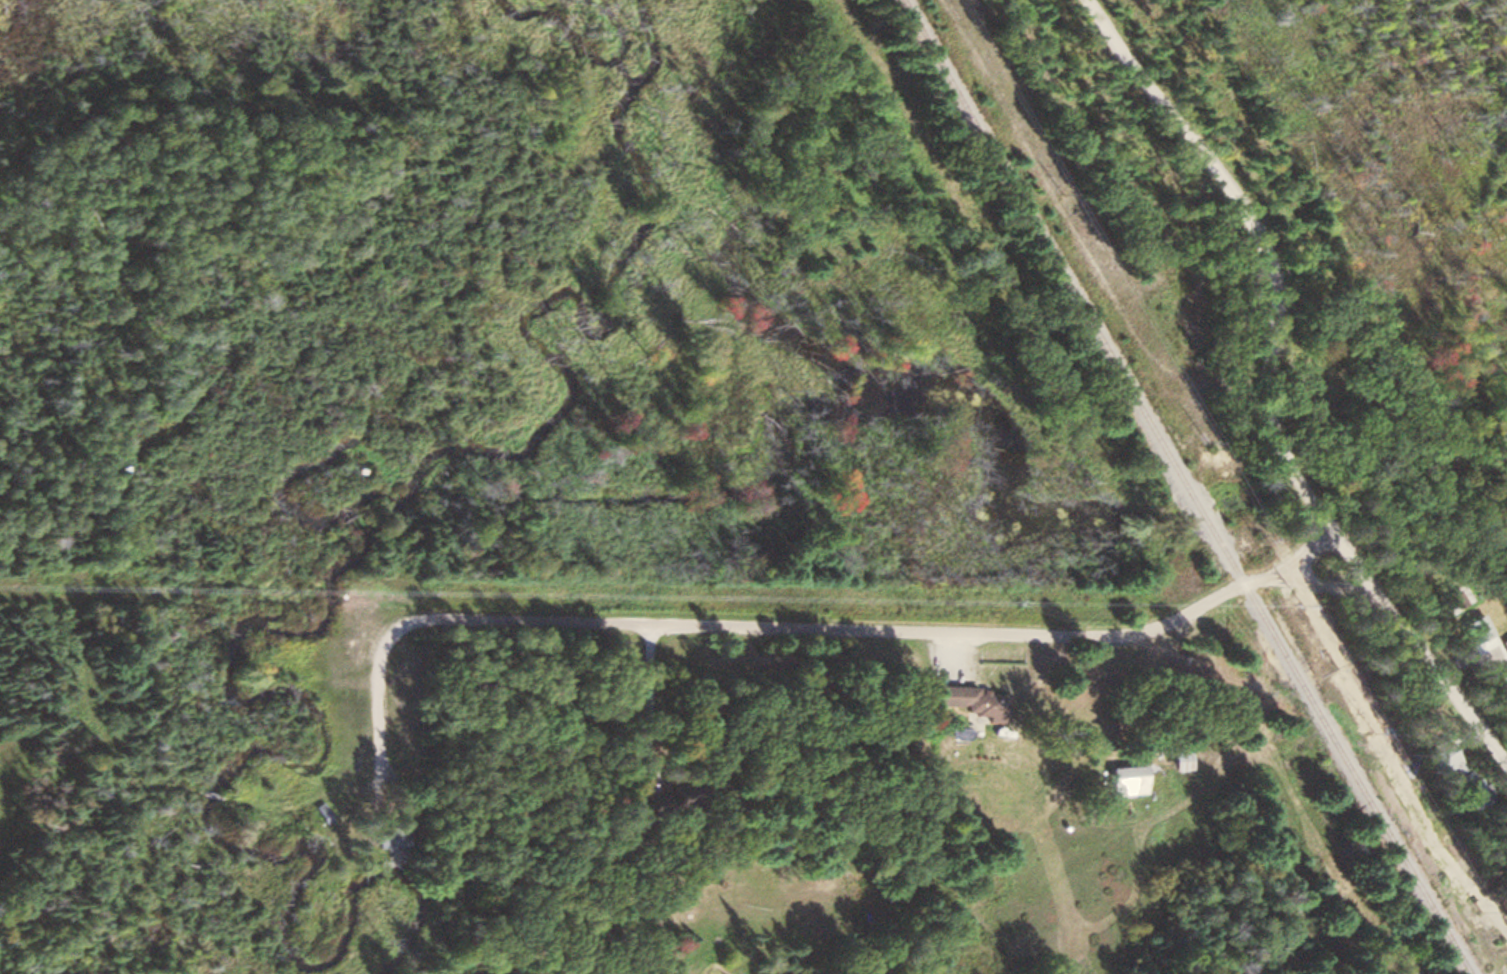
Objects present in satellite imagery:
road: (1279, 383)
railway: (1184, 485)
road: (1307, 580)
road: (848, 630)
building: (1504, 643)
building: (967, 700)
building: (1435, 752)
building: (1173, 759)
building: (1122, 779)
building: (1467, 786)
building: (666, 794)
building: (320, 812)
building: (392, 835)

